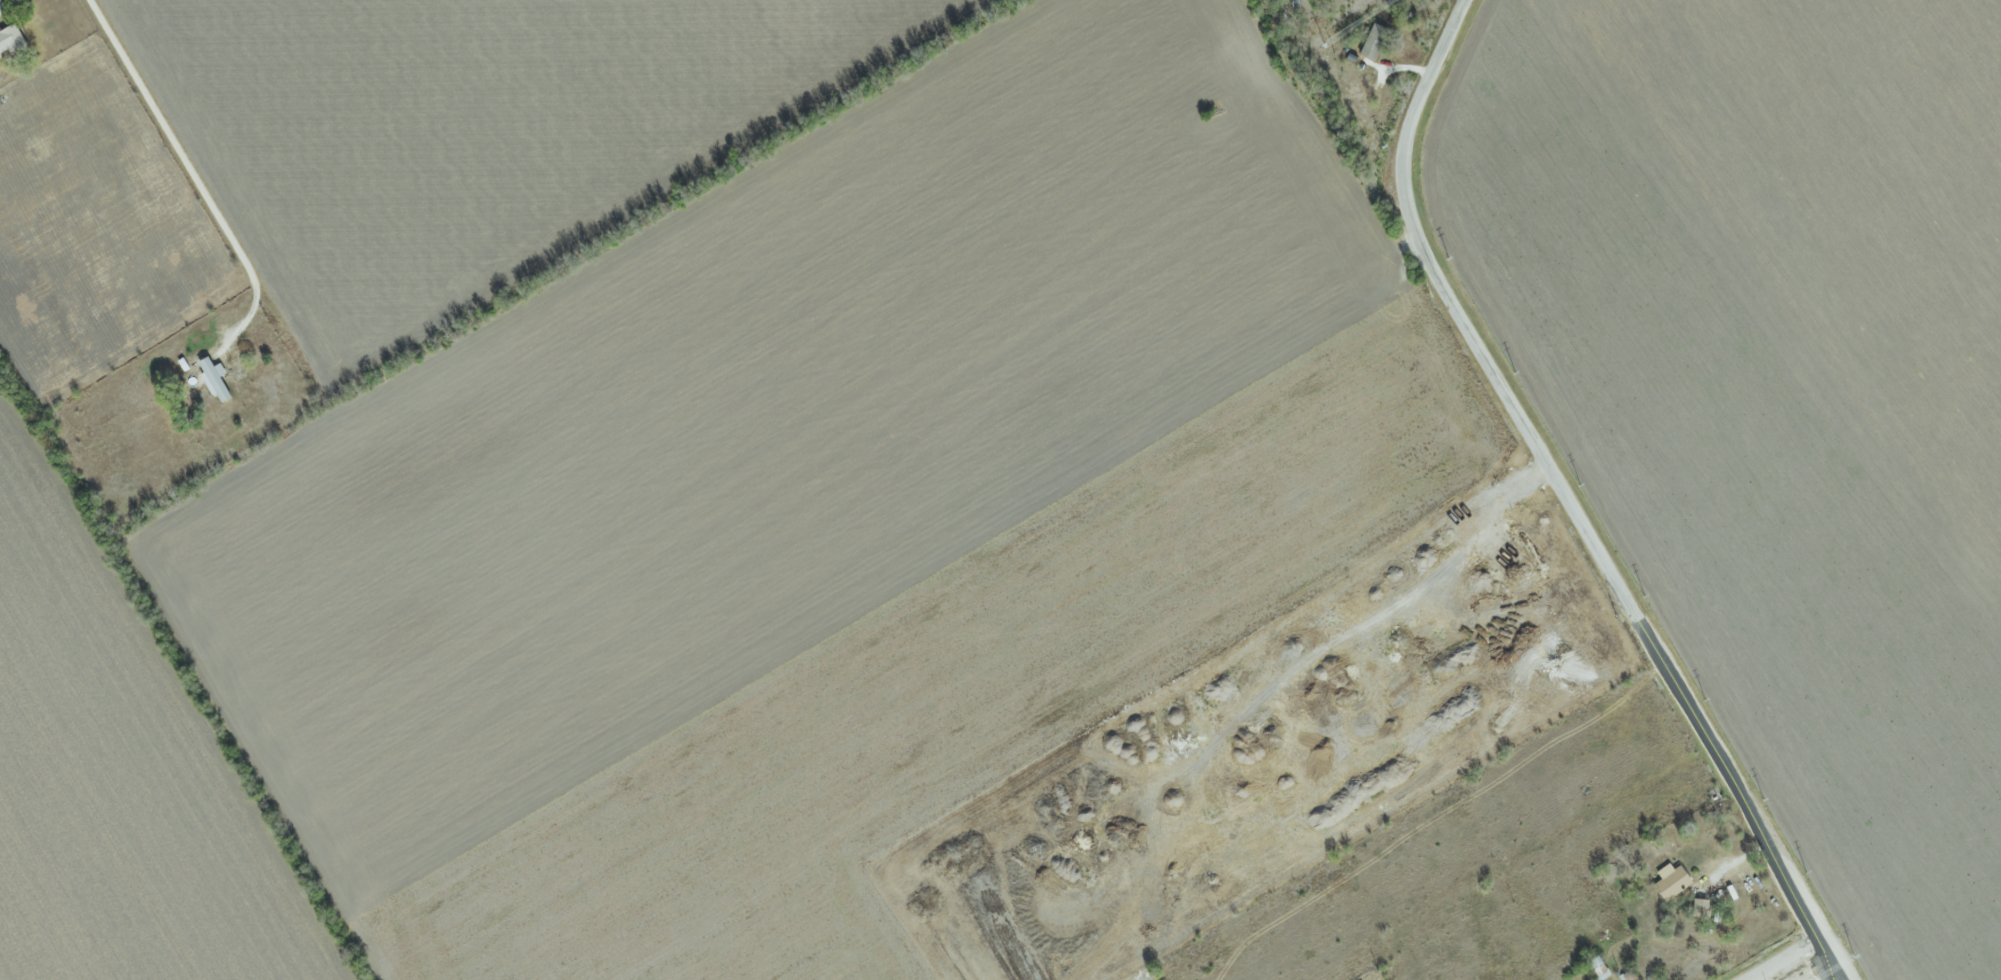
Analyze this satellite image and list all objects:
building: (3, 7)
building: (13, 41)
building: (1372, 41)
road: (191, 170)
building: (218, 380)
road: (1569, 501)
road: (1738, 859)
building: (1670, 881)
building: (1700, 909)
road: (1790, 957)

